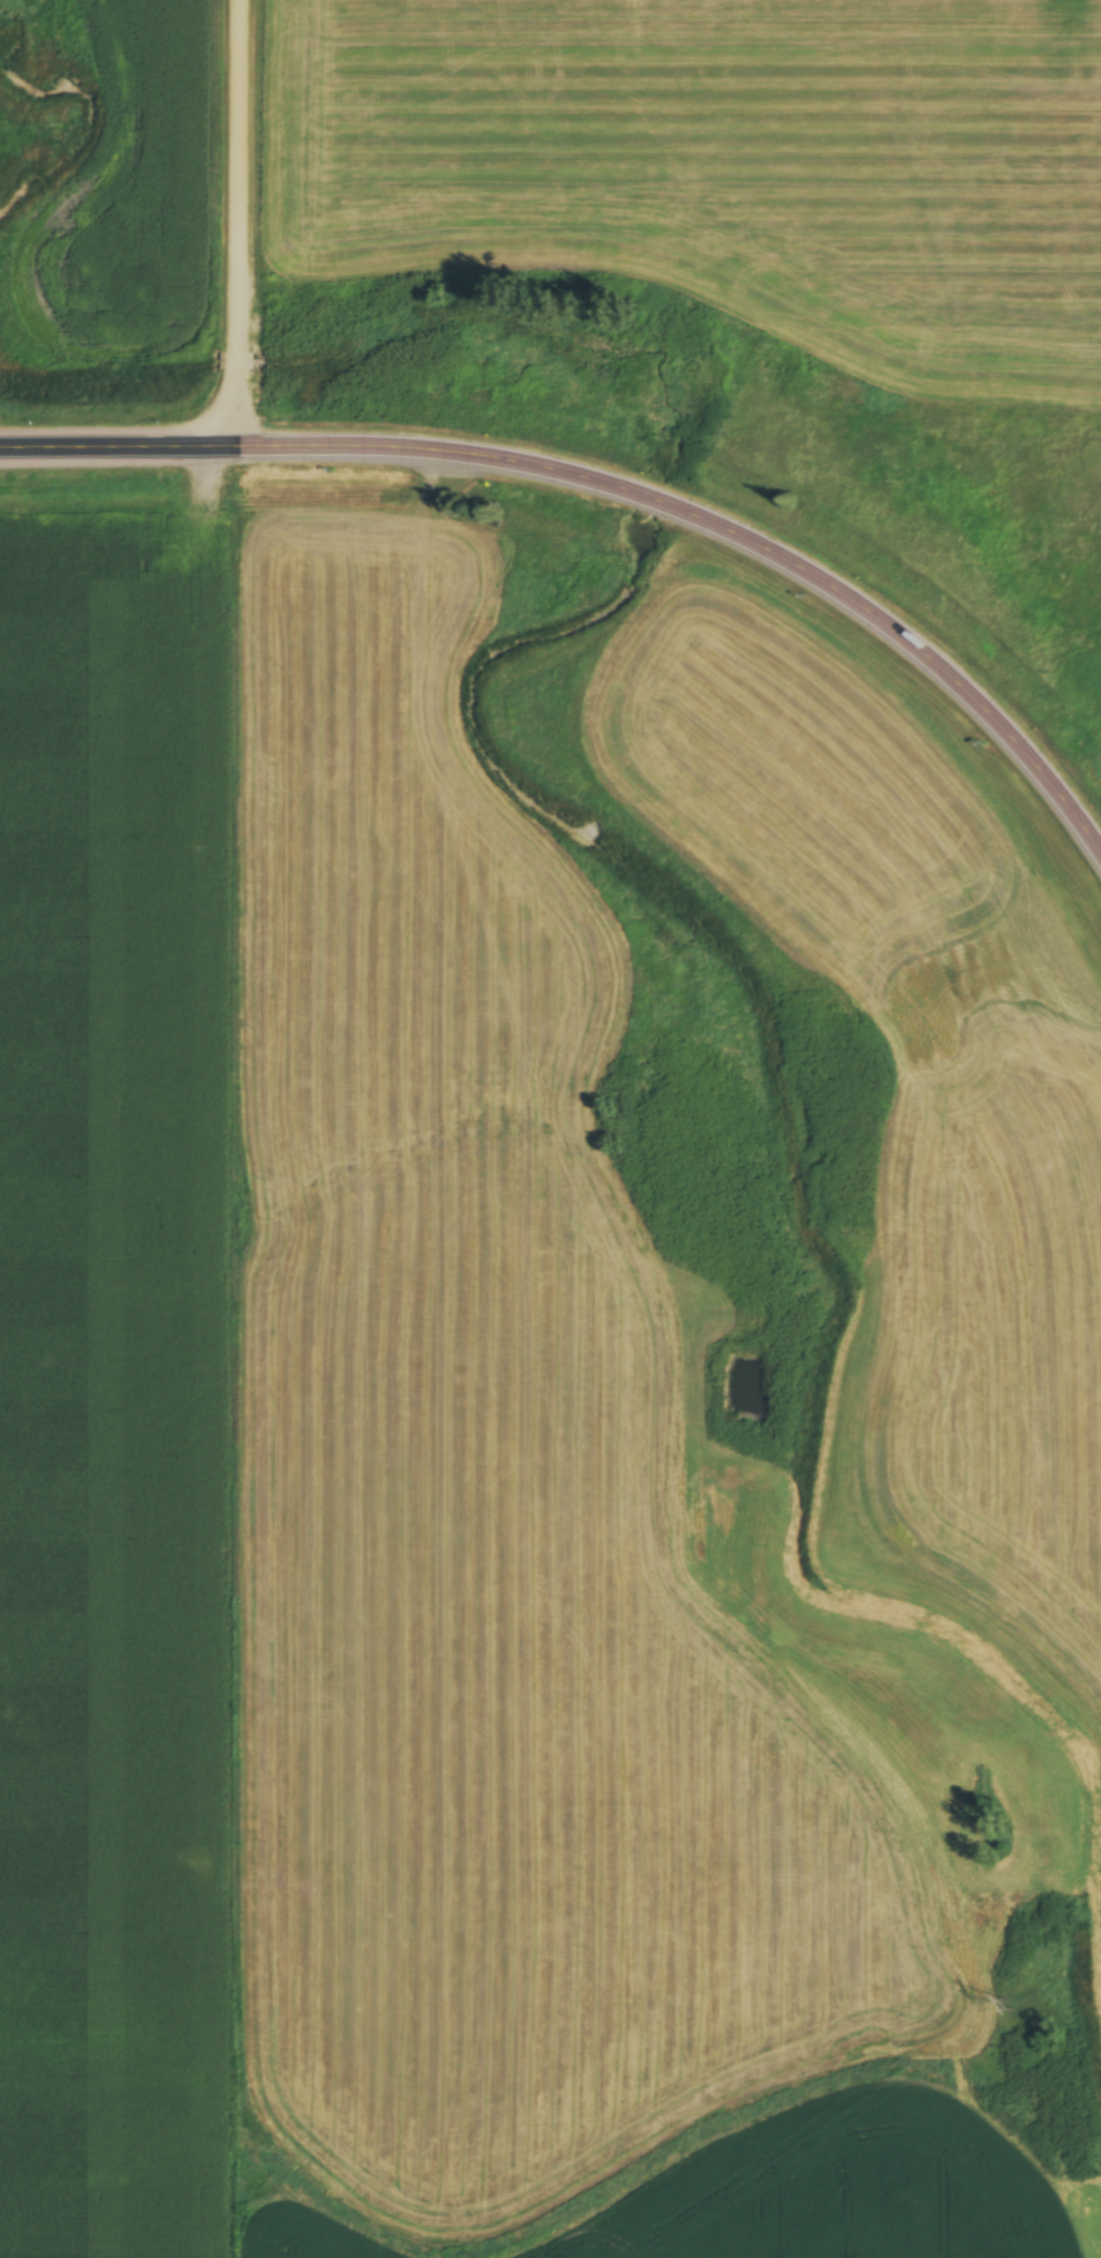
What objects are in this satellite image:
road: (237, 225)
road: (117, 452)
road: (724, 533)
power tower: (1012, 2010)

